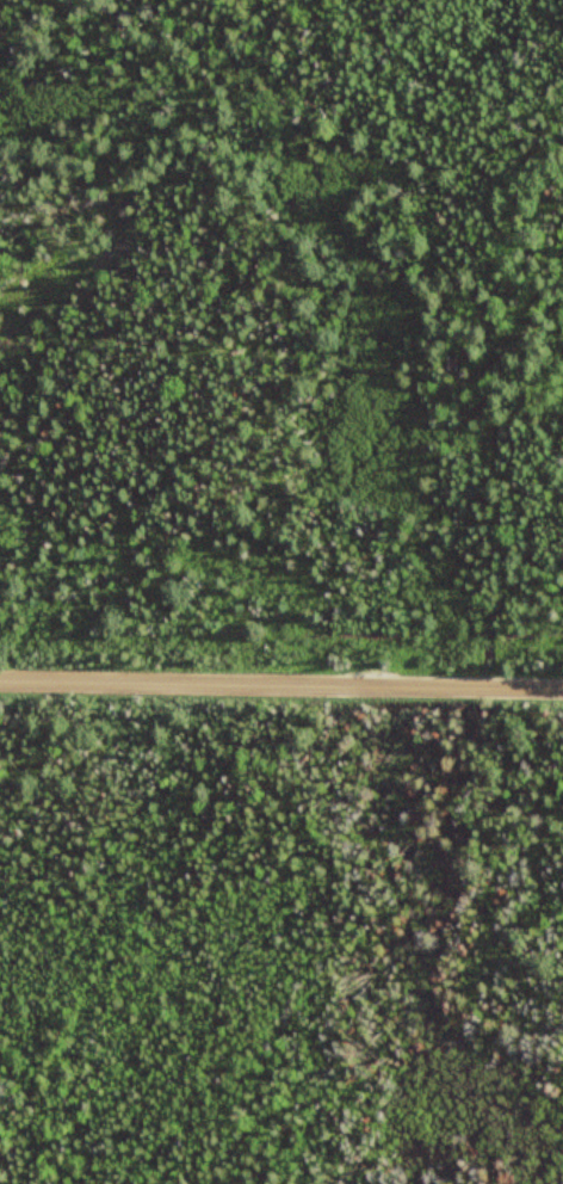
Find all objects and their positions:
road: (280, 680)

